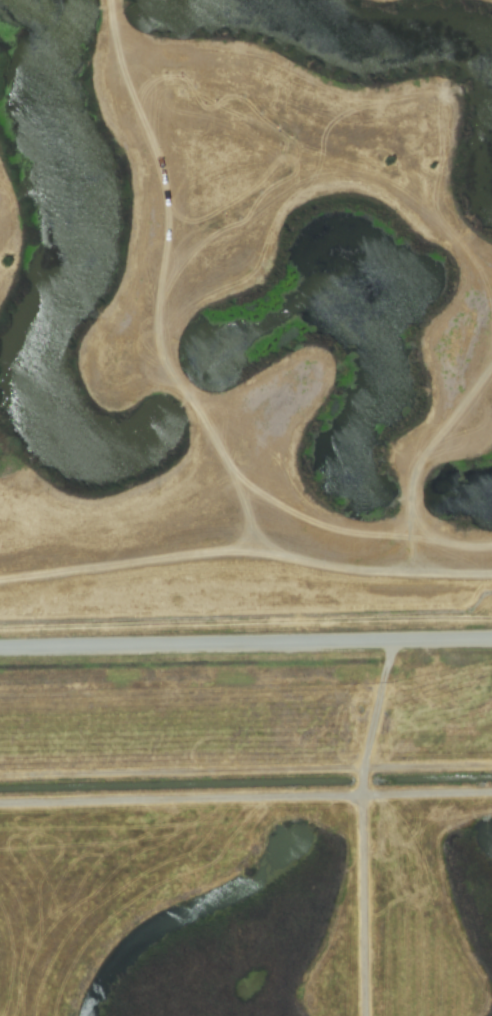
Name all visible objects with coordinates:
road: (245, 647)
road: (253, 796)

